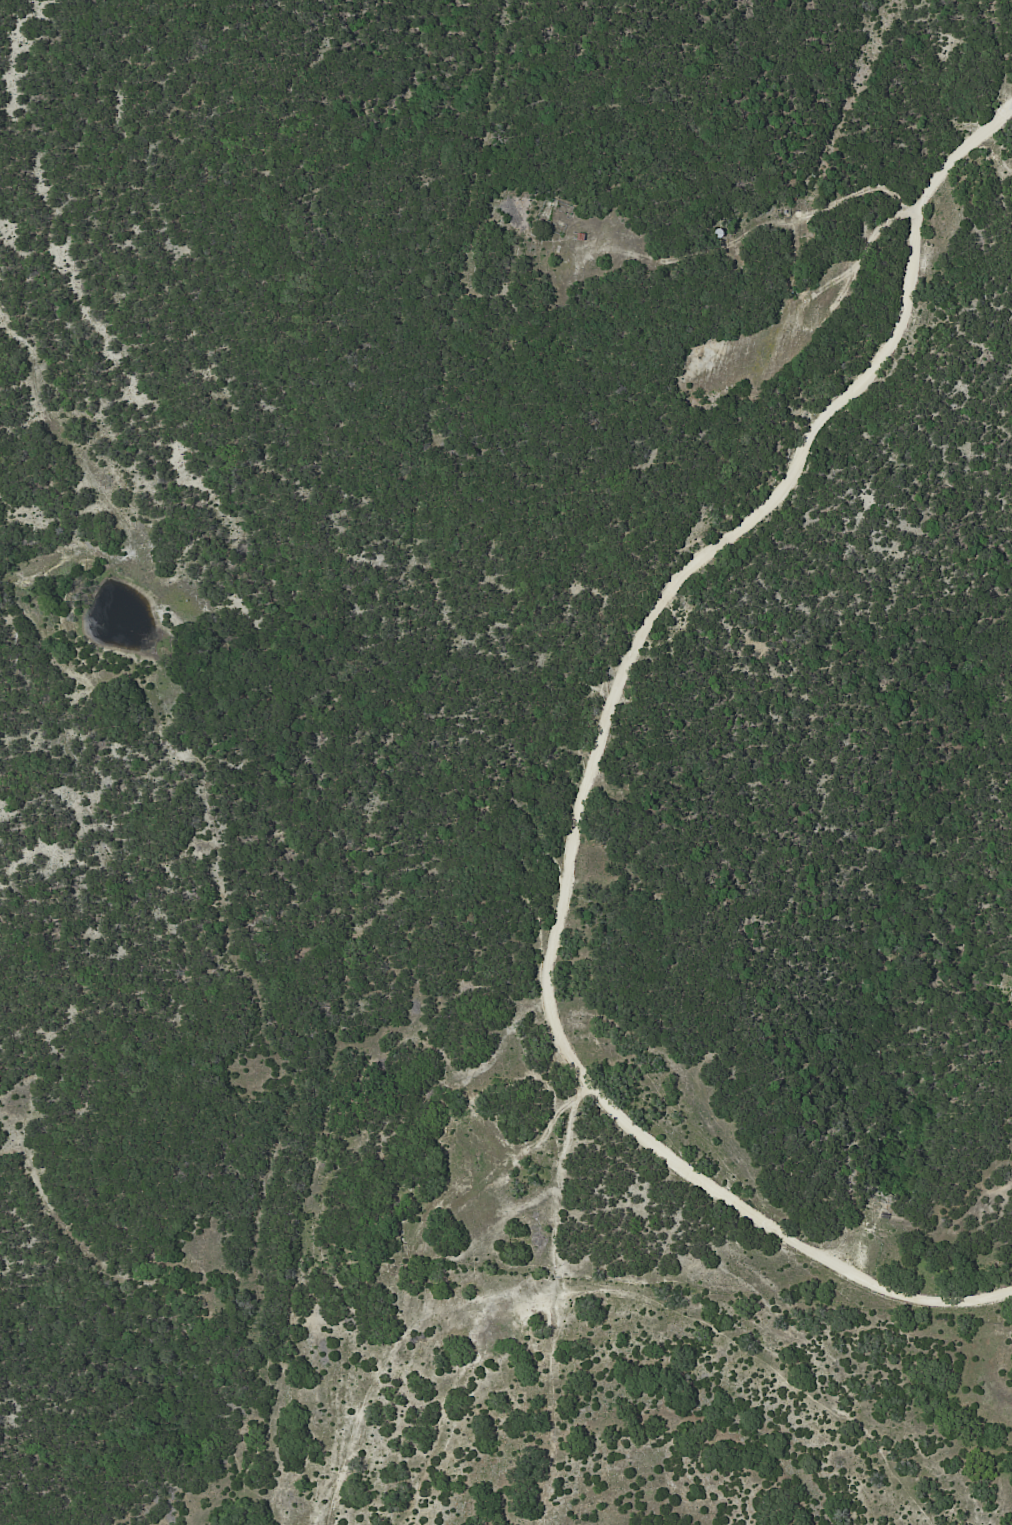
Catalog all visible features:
road: (993, 130)
building: (723, 234)
building: (581, 236)
road: (587, 804)

